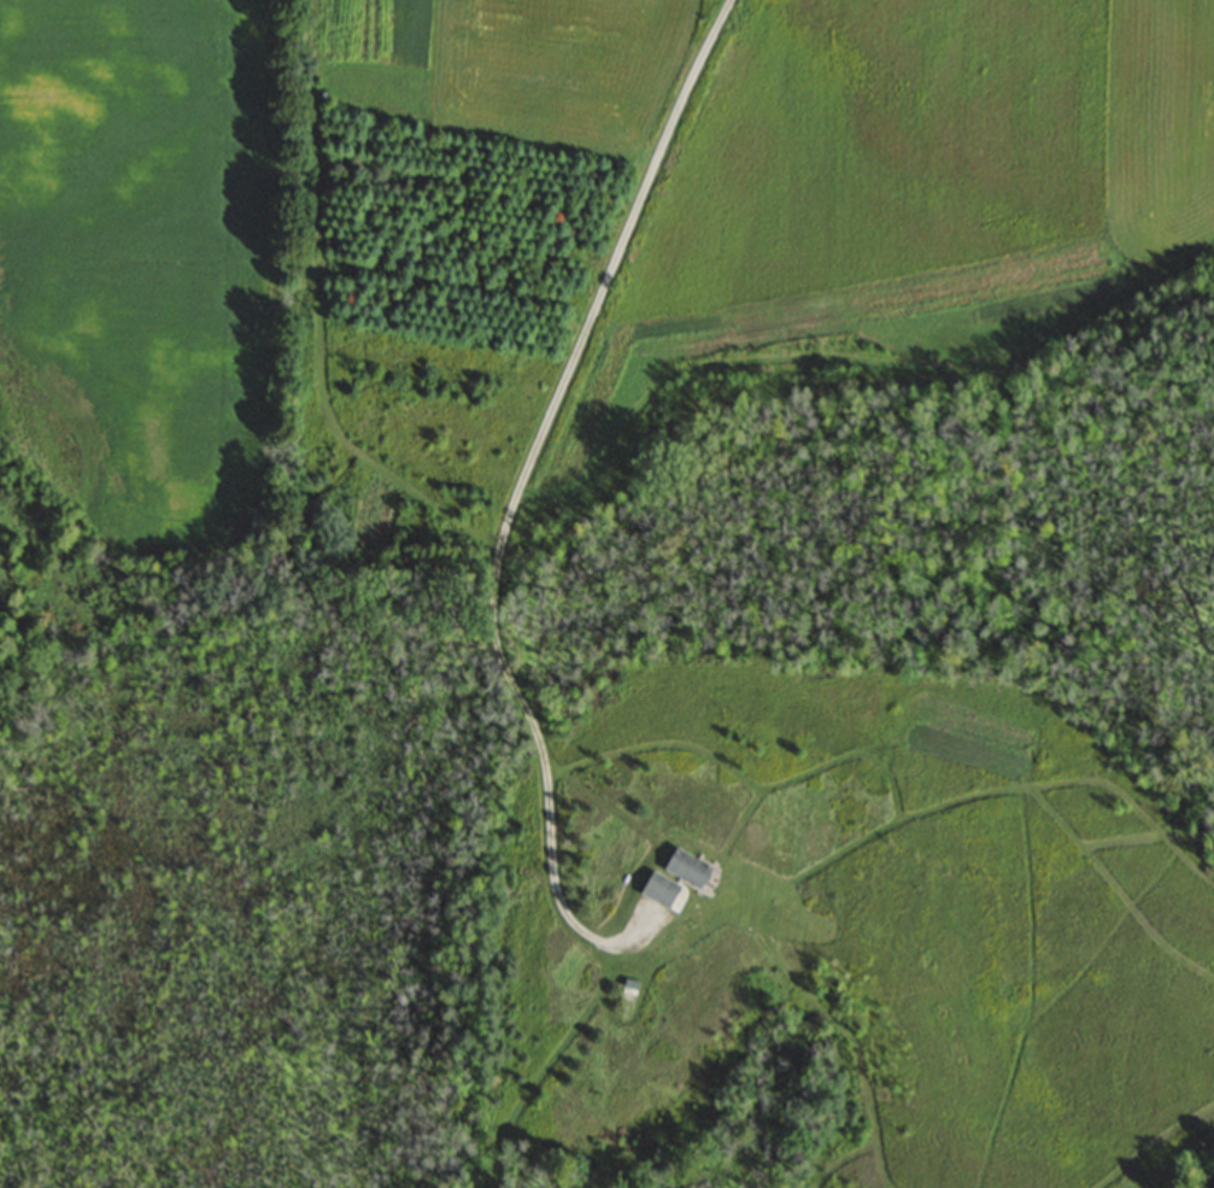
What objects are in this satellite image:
building: (685, 867)
building: (657, 889)

